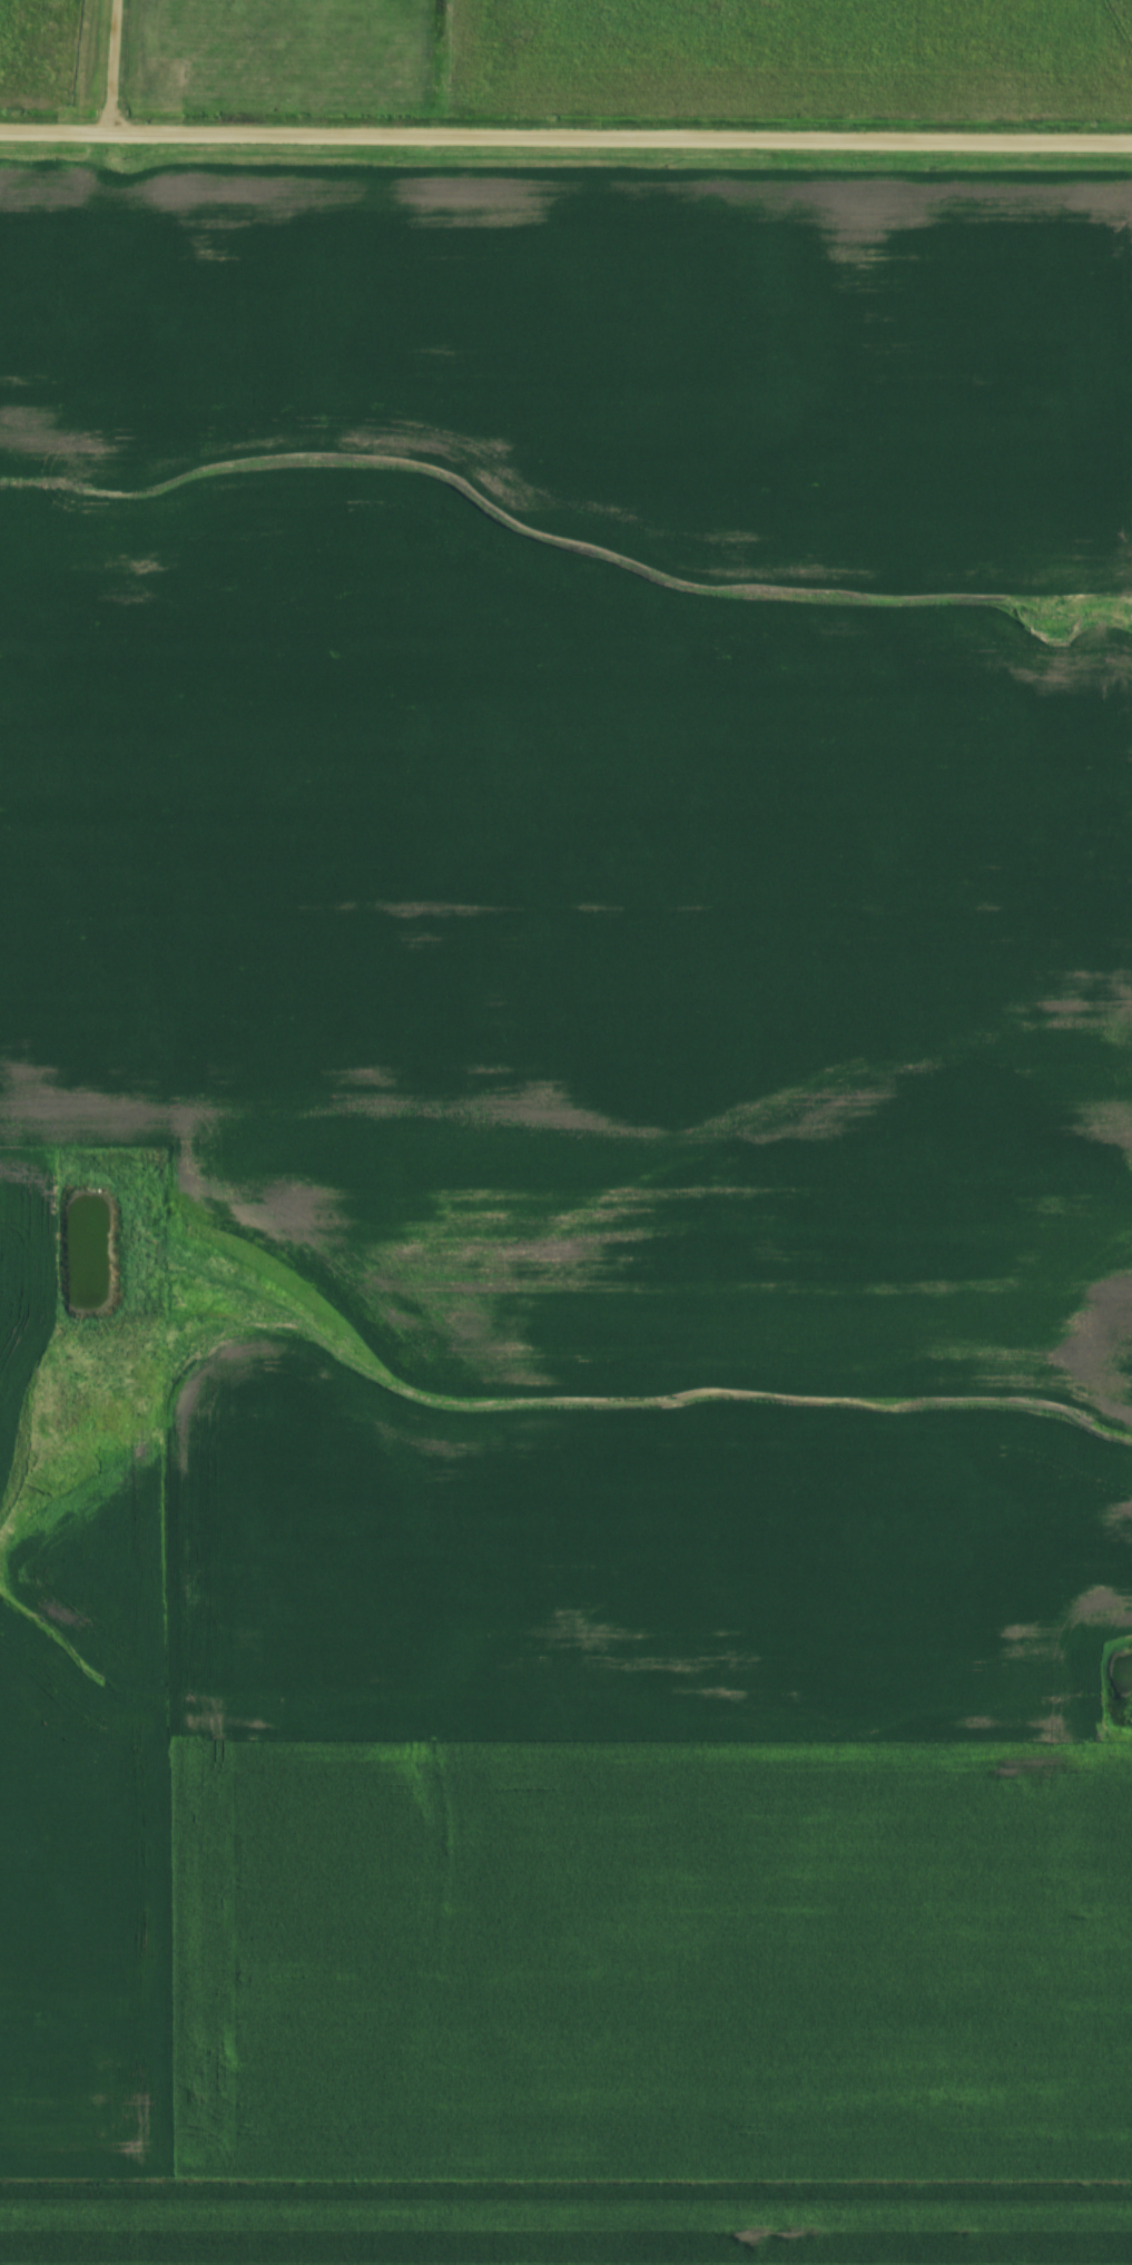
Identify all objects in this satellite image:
road: (115, 66)
road: (565, 137)

